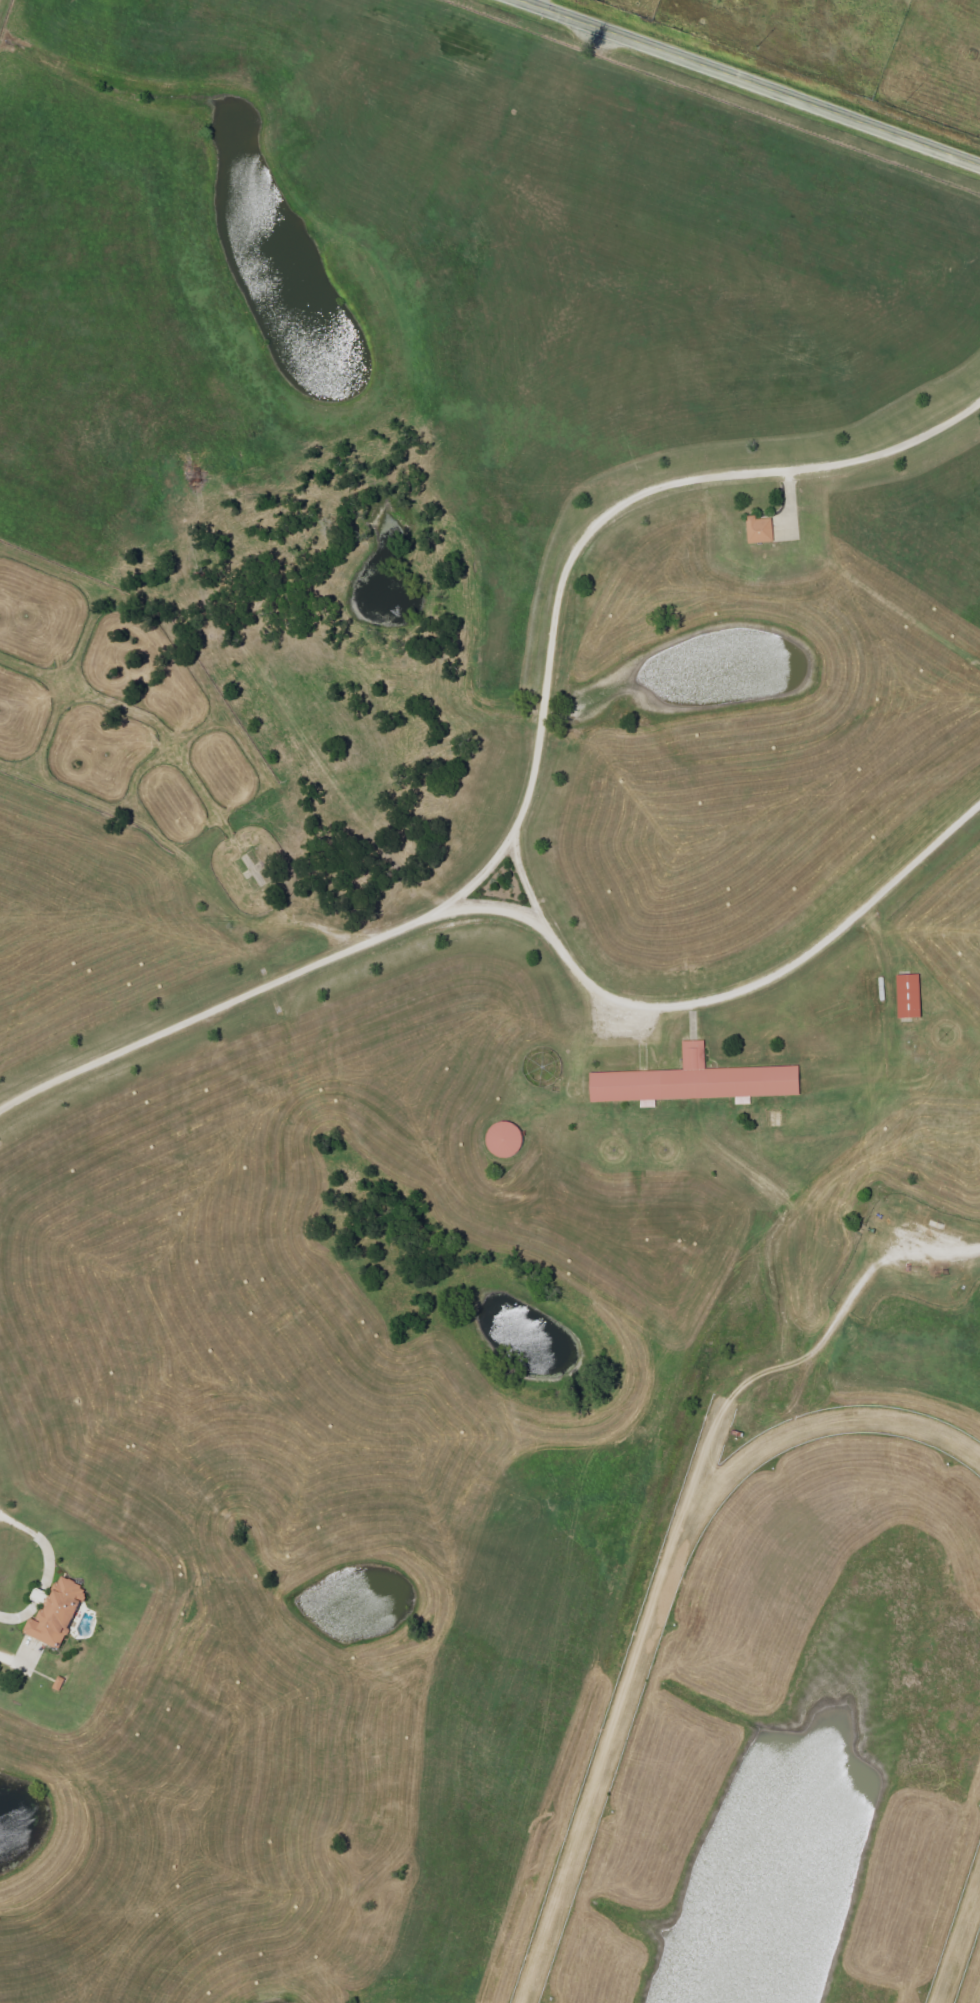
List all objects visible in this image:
road: (537, 3)
road: (750, 82)
building: (759, 530)
road: (530, 767)
building: (906, 996)
road: (727, 1001)
building: (692, 1081)
building: (503, 1140)
road: (953, 1247)

